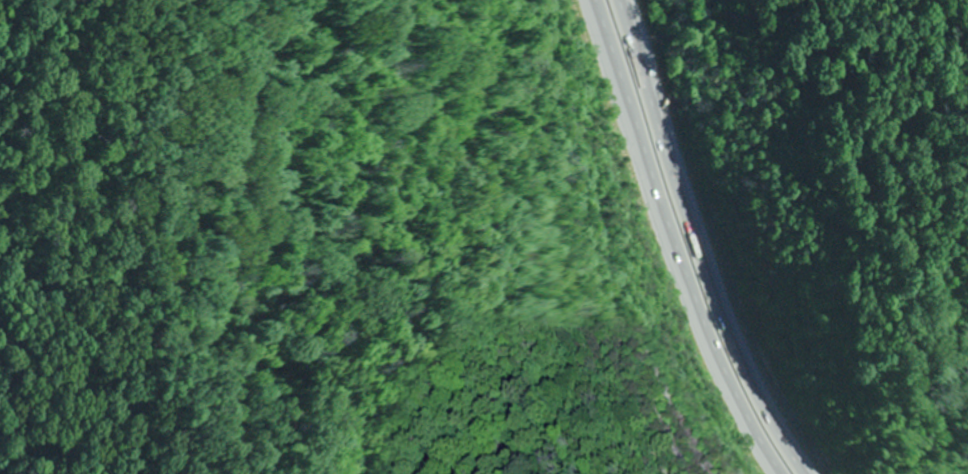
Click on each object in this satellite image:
road: (678, 242)
road: (712, 243)

